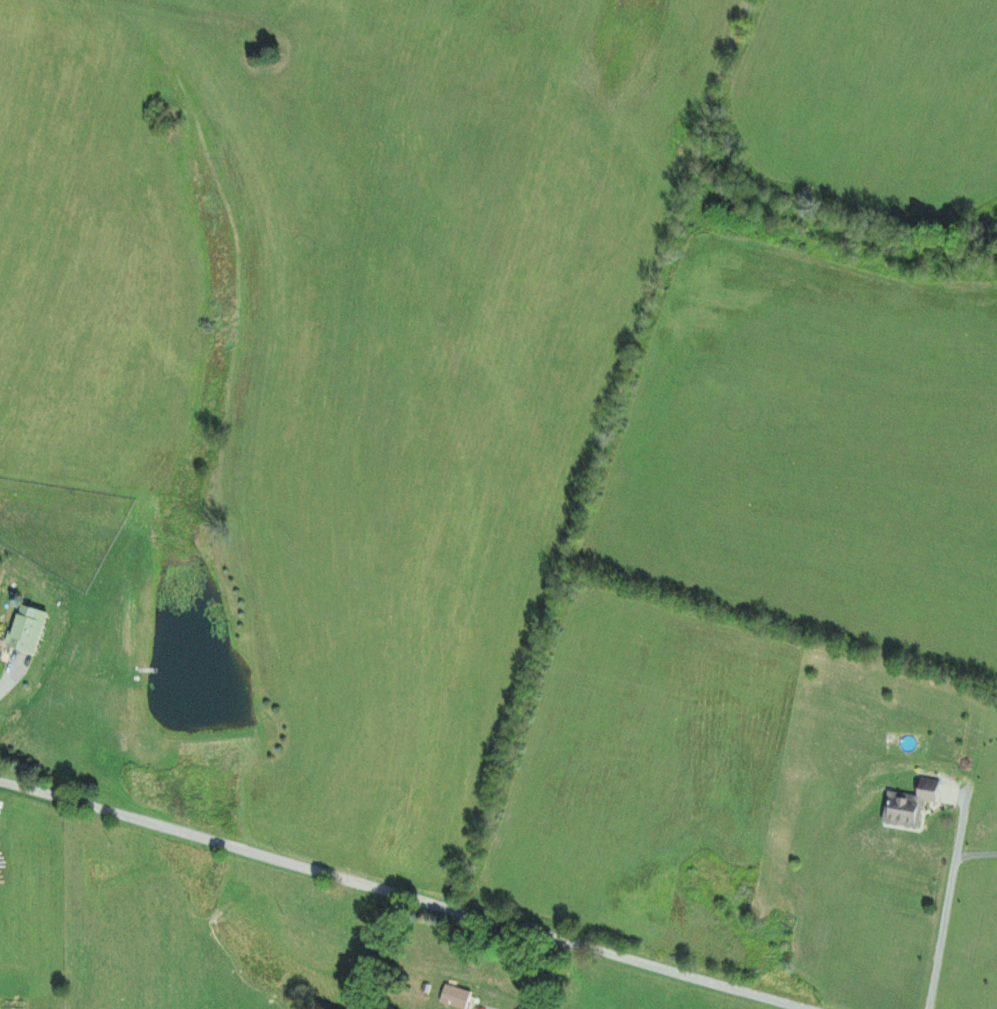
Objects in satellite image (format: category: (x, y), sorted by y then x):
building: (28, 630)
building: (910, 805)
road: (403, 895)
road: (948, 903)
road: (552, 975)
building: (455, 997)

